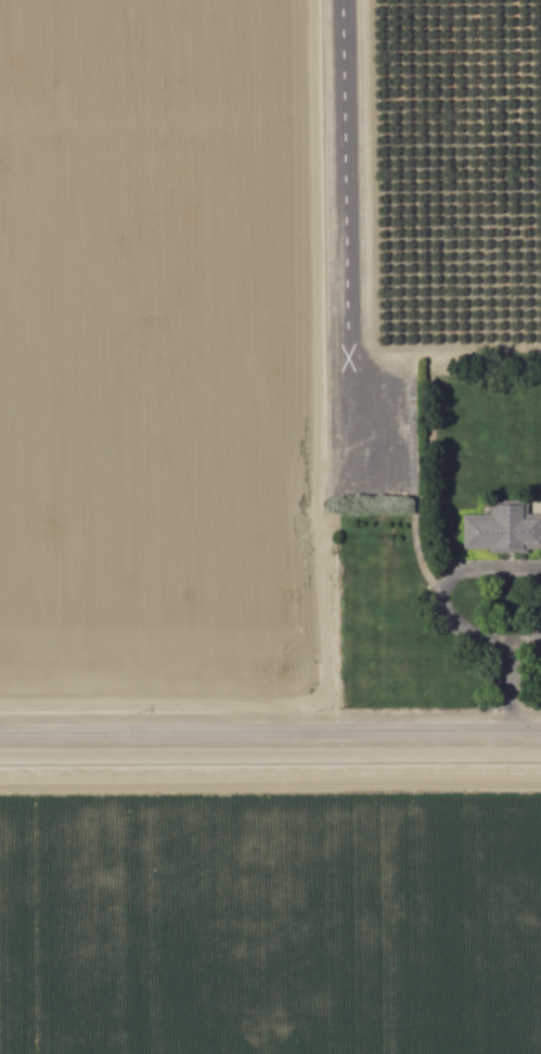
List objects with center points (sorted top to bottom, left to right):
airport runway: (345, 226)
crop: (146, 356)
building: (502, 531)
road: (445, 580)
road: (521, 634)
road: (503, 689)
road: (270, 734)
crop: (270, 906)

